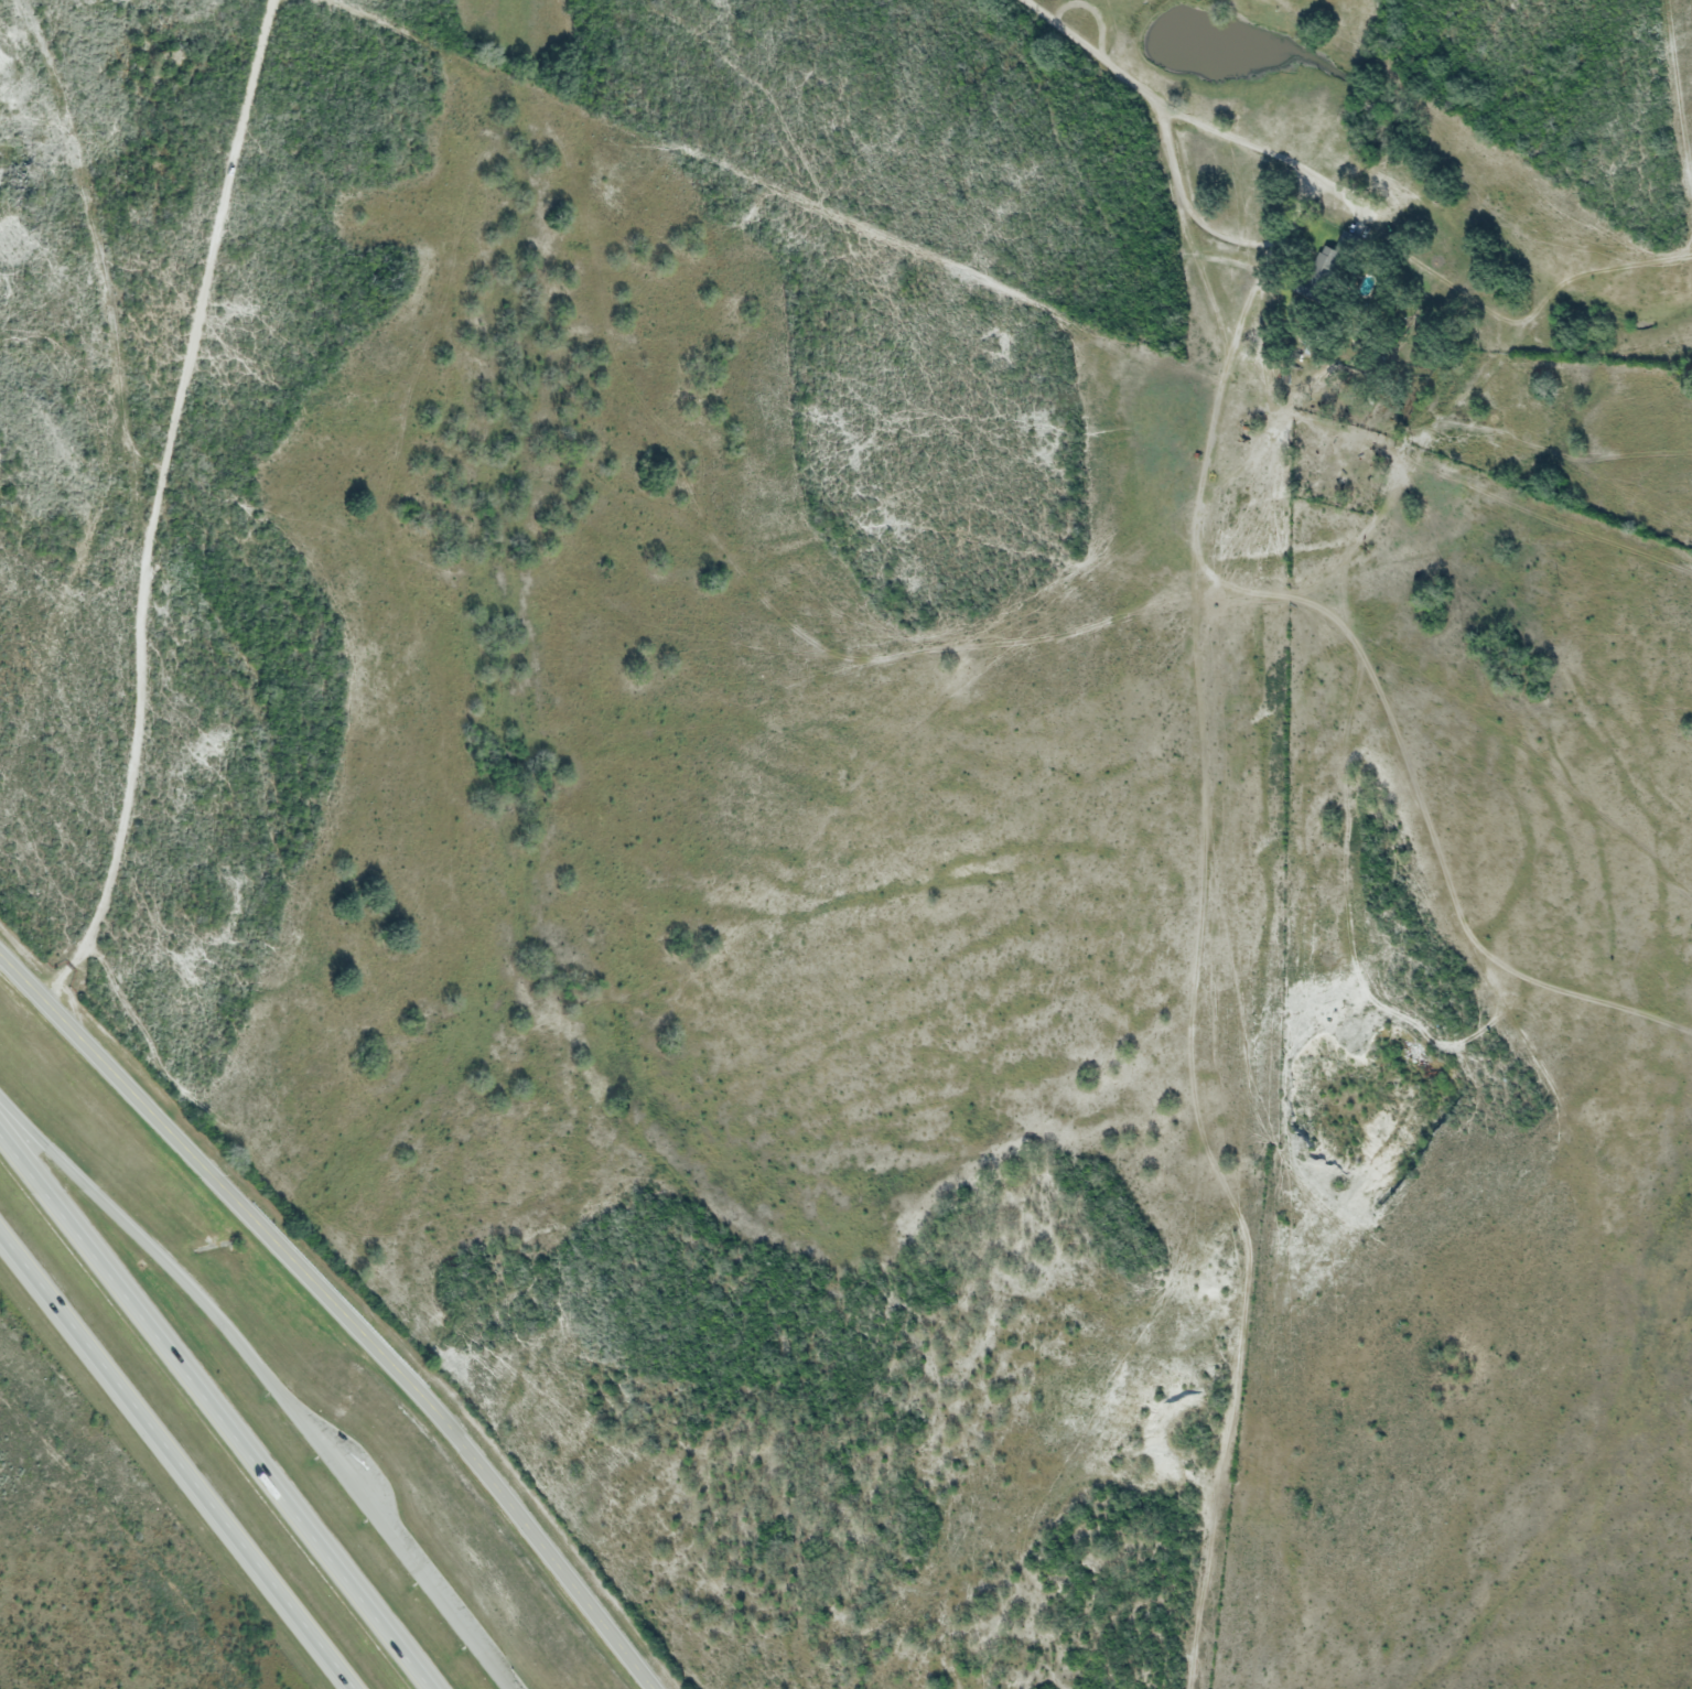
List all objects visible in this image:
road: (1201, 123)
building: (1329, 262)
building: (1135, 358)
road: (154, 505)
road: (21, 1122)
road: (155, 1254)
road: (340, 1312)
road: (218, 1409)
road: (173, 1463)
road: (388, 1529)

